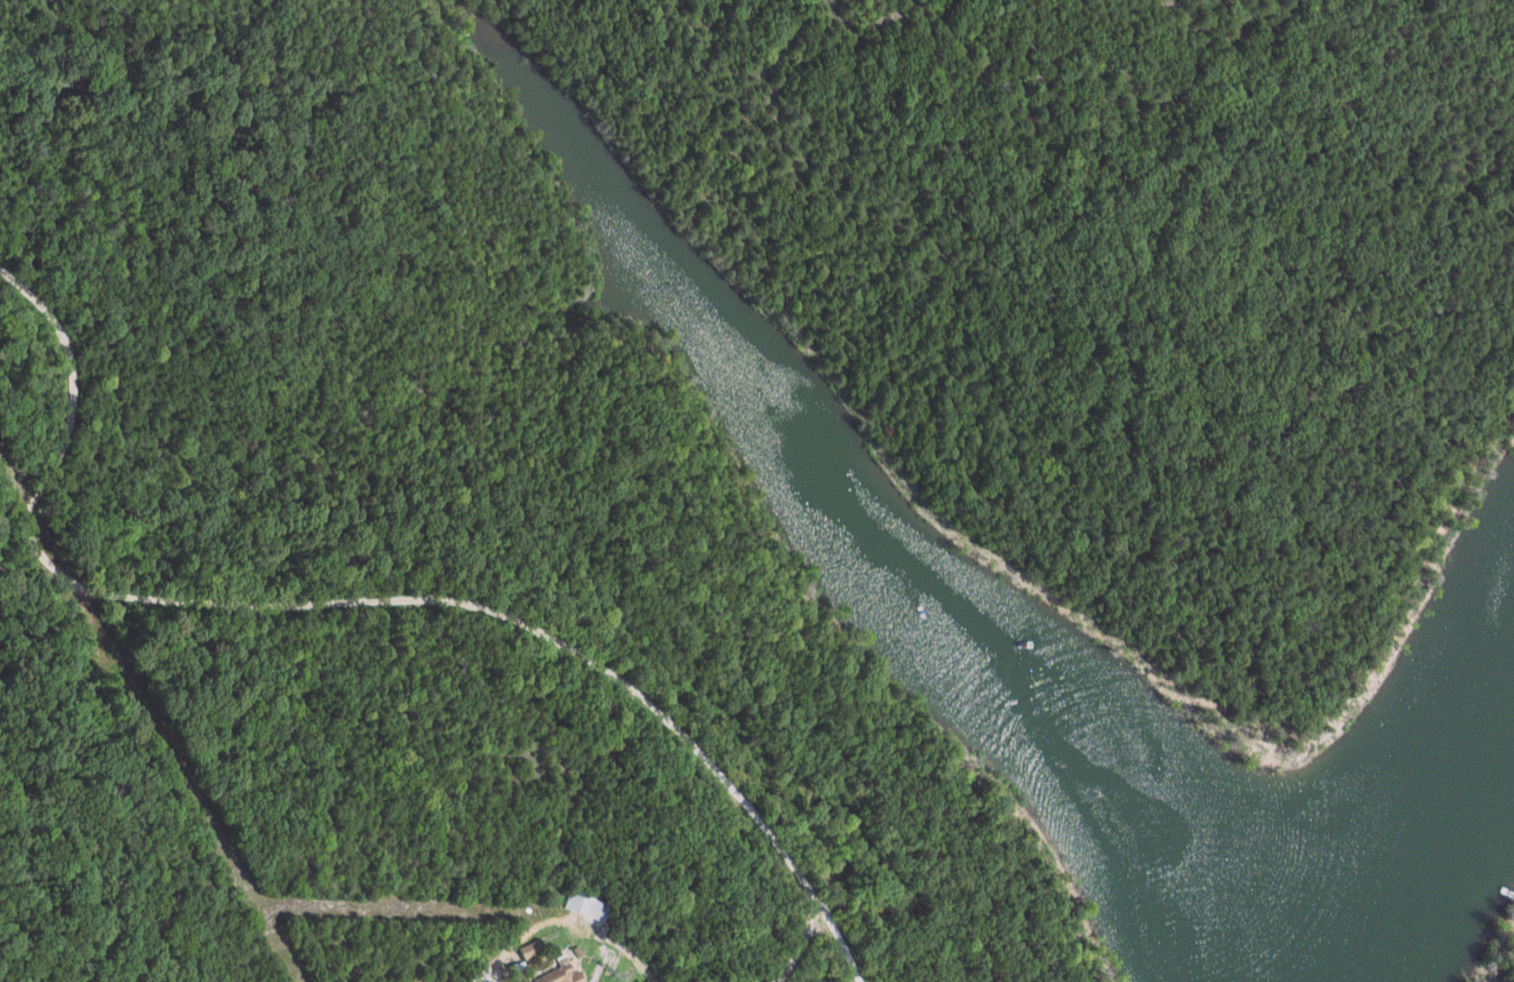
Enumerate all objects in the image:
road: (1332, 6)
road: (370, 601)
building: (587, 906)
road: (560, 912)
road: (784, 943)
building: (531, 949)
building: (560, 972)

